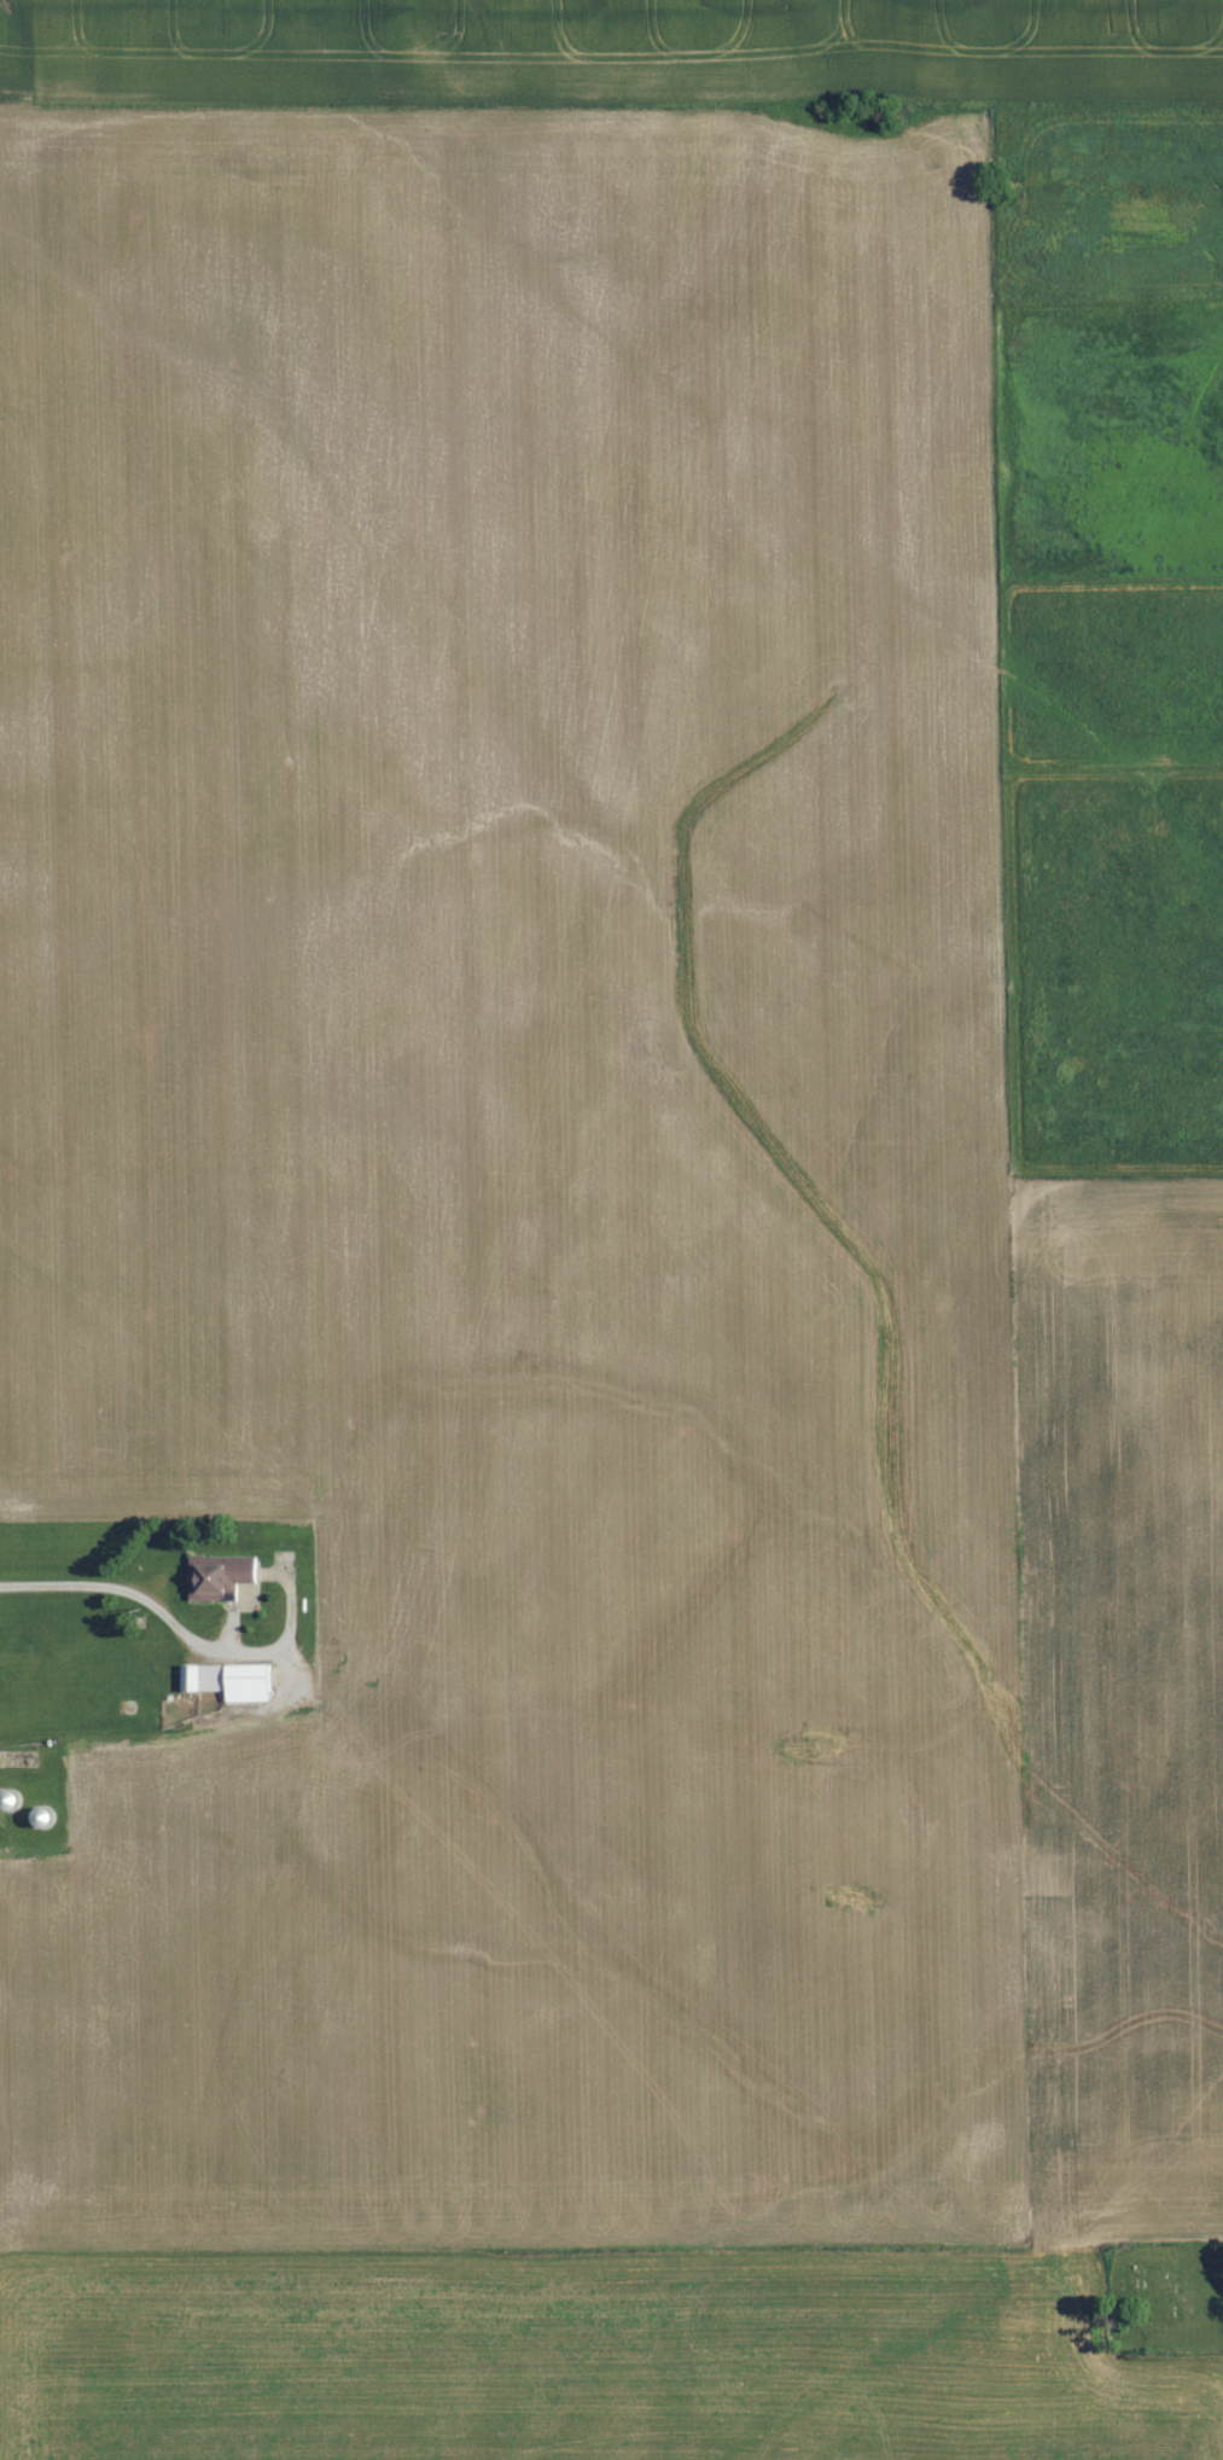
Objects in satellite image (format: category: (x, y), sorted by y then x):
building: (220, 1578)
road: (134, 1593)
building: (229, 1682)

